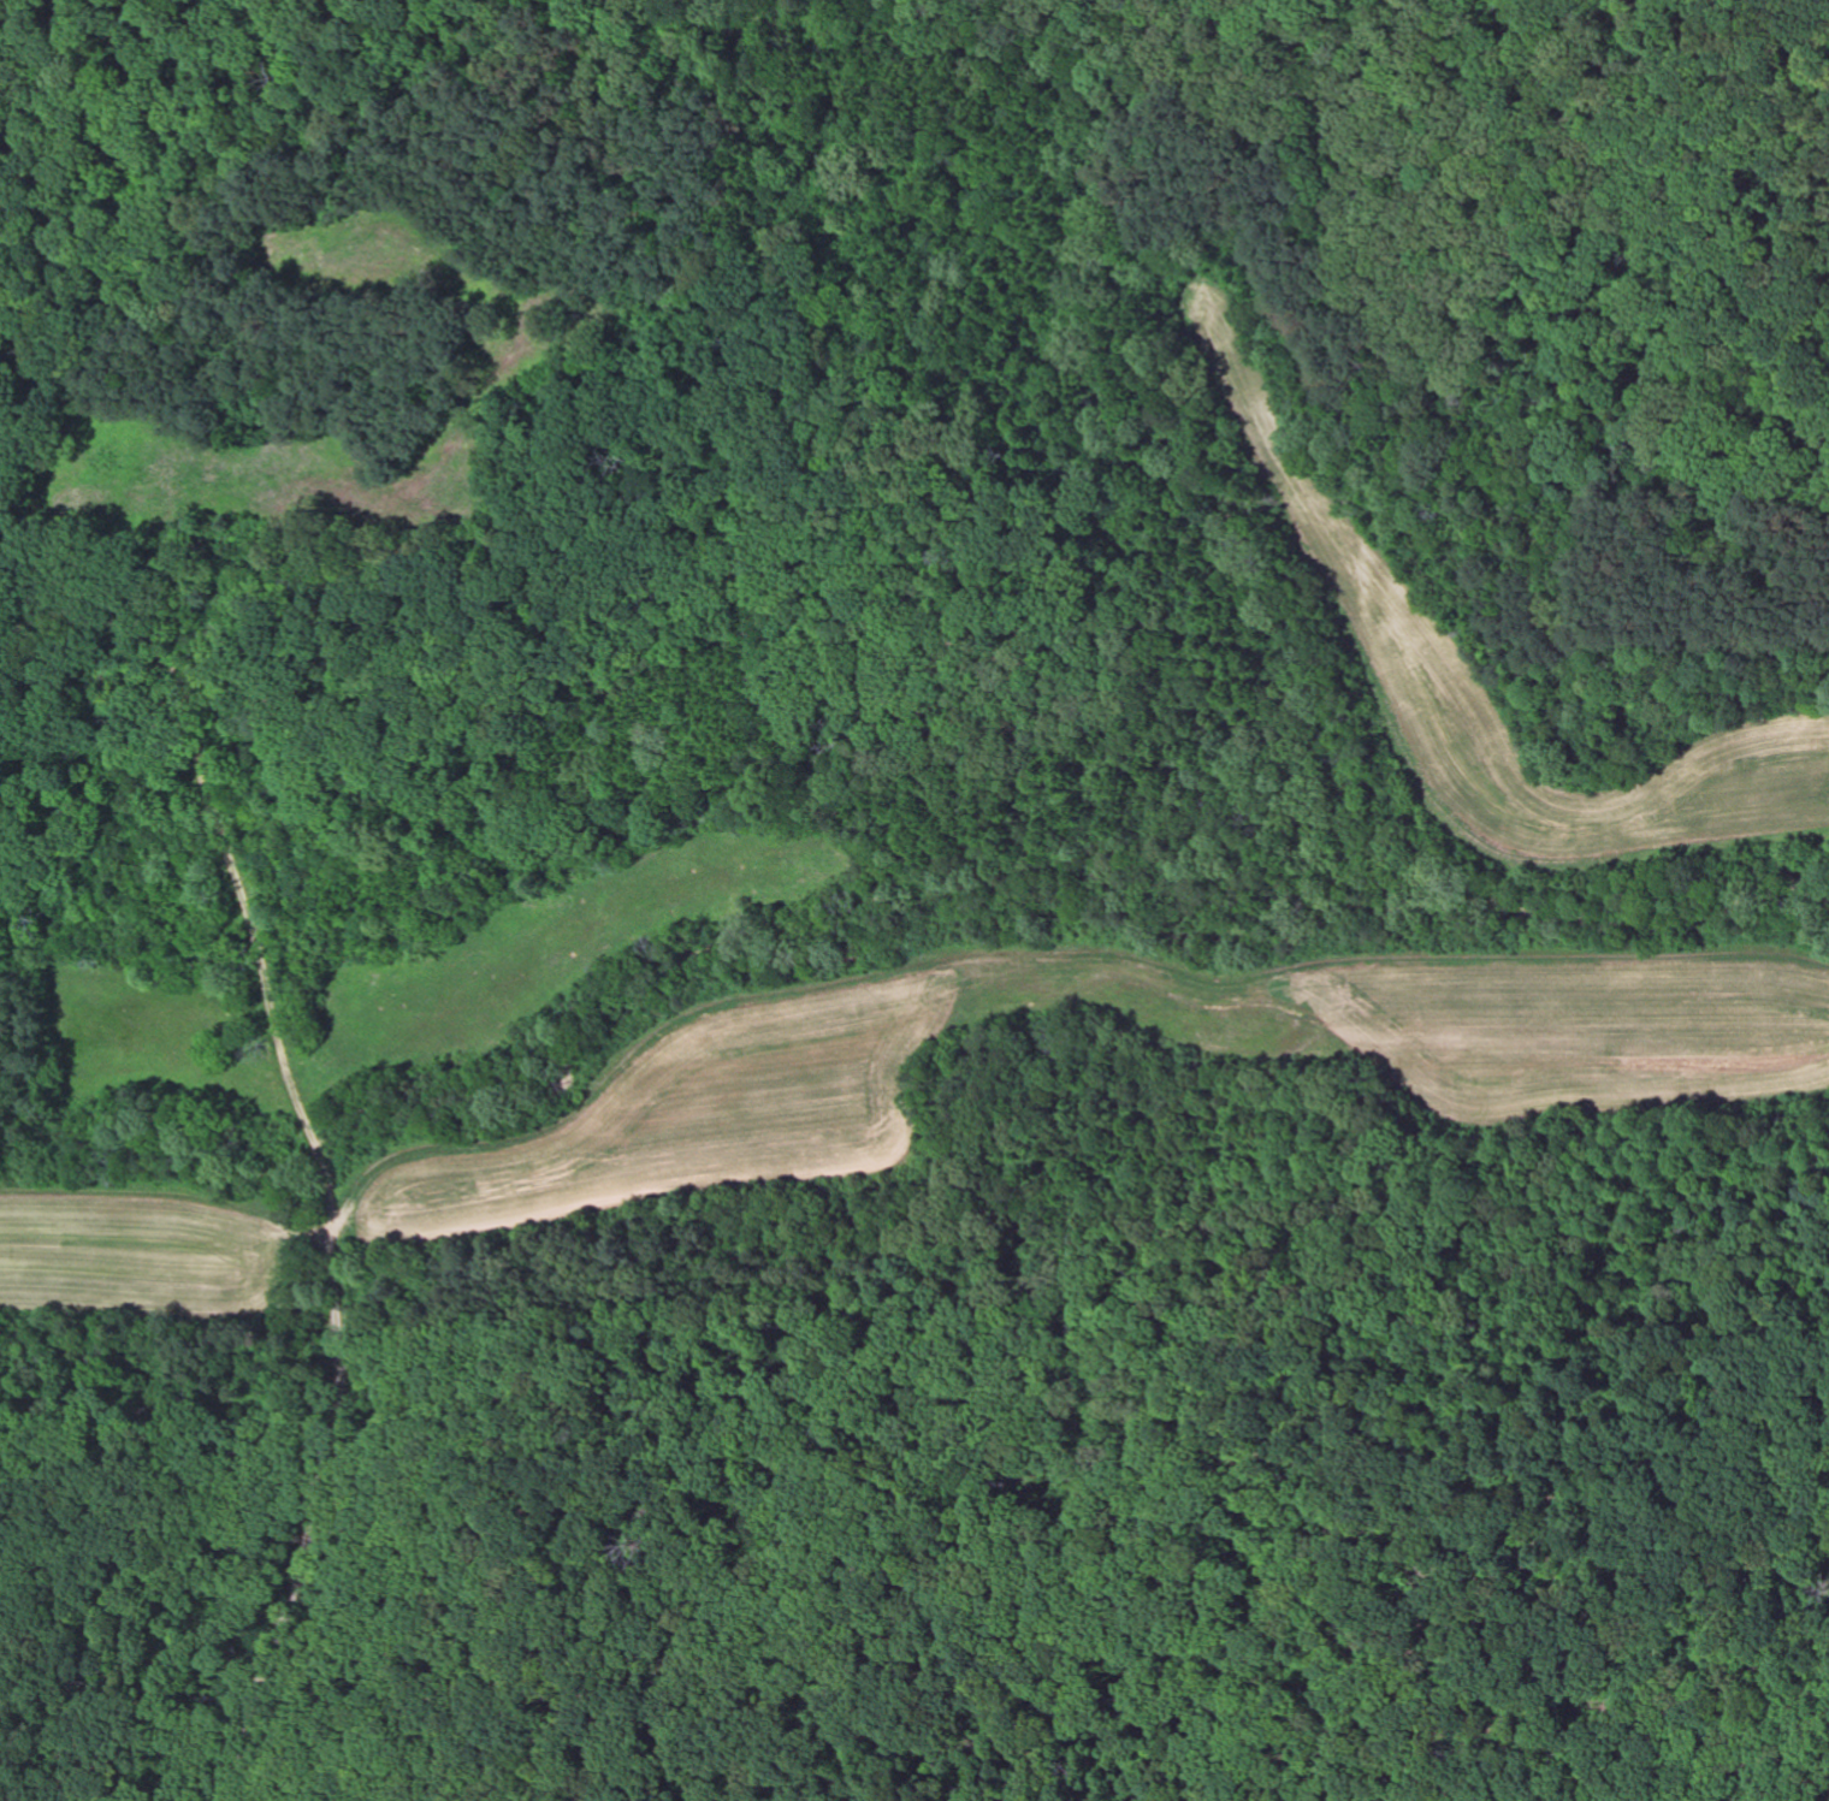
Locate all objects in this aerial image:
road: (312, 1139)

